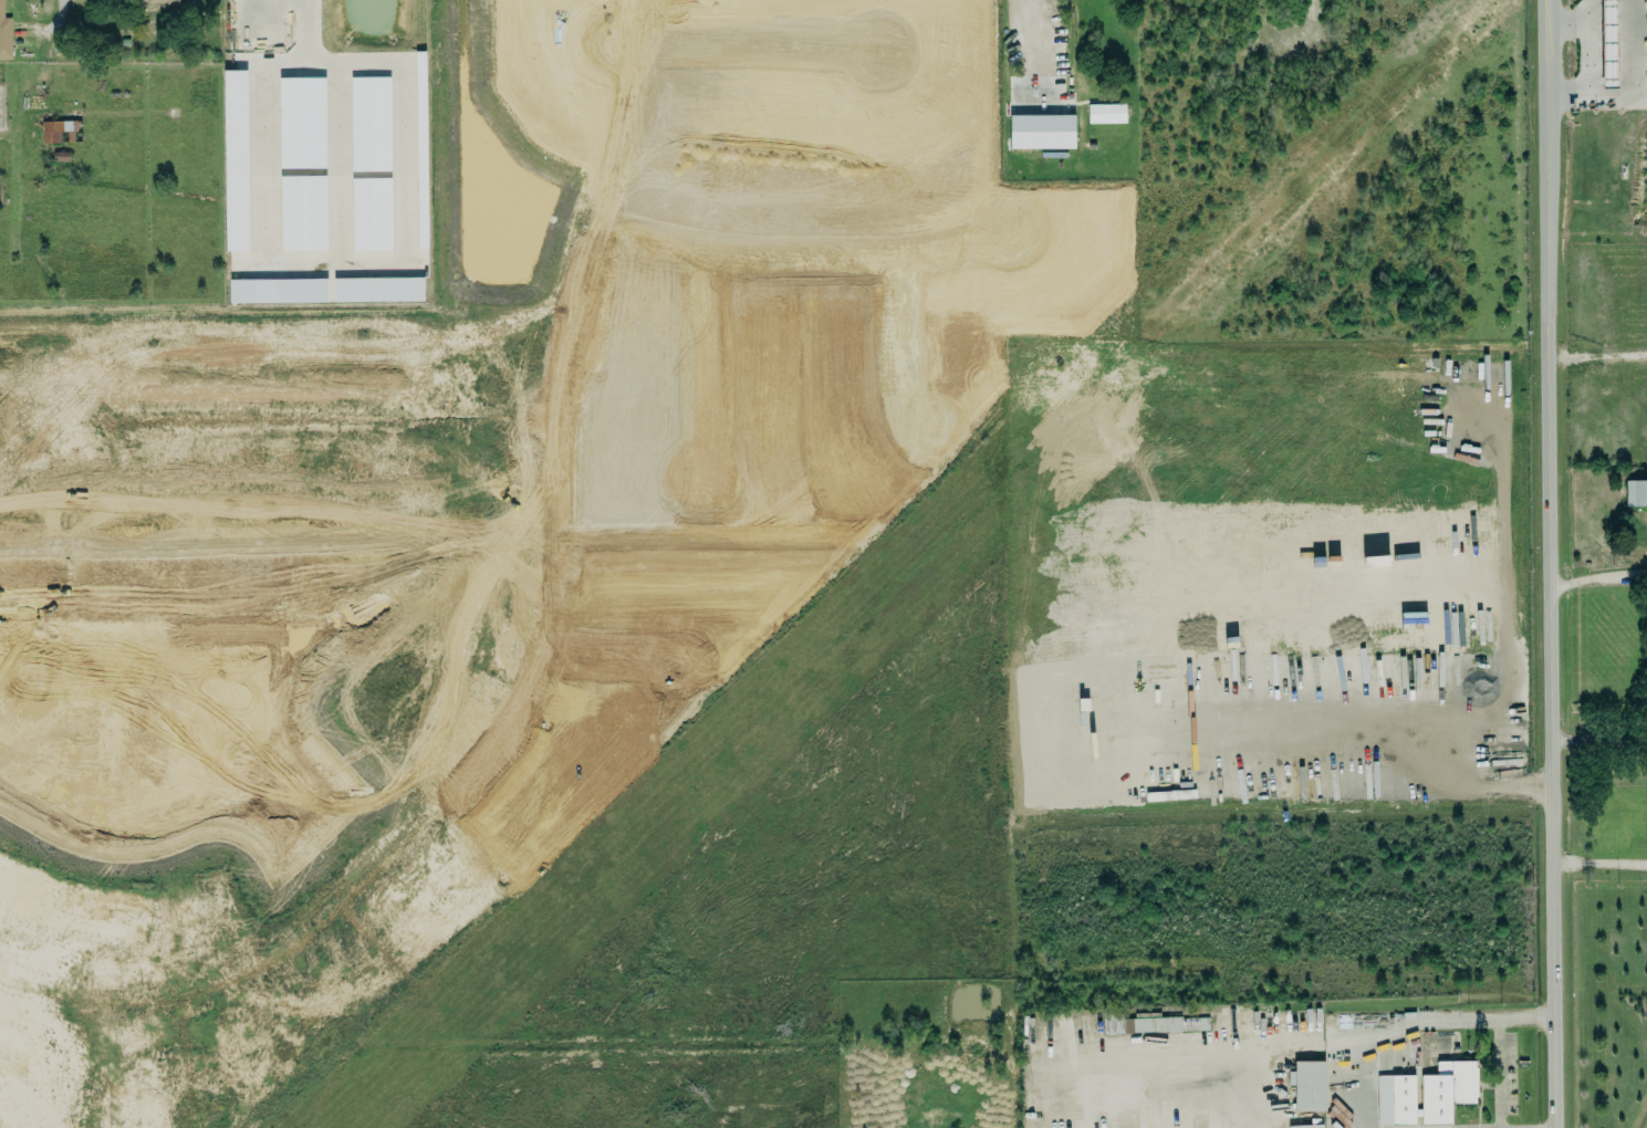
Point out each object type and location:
building: (164, 2)
building: (0, 4)
road: (52, 20)
road: (1573, 24)
road: (1011, 30)
building: (4, 39)
building: (1609, 39)
road: (307, 56)
road: (1630, 92)
building: (1105, 114)
building: (302, 123)
building: (371, 124)
building: (1041, 128)
building: (59, 133)
building: (236, 160)
building: (303, 213)
building: (372, 215)
building: (378, 290)
building: (278, 291)
road: (1596, 359)
building: (1636, 493)
road: (1551, 564)
road: (1598, 575)
road: (1499, 606)
road: (1598, 740)
road: (1349, 744)
road: (1604, 863)
park: (1610, 1002)
road: (1404, 1041)
road: (1500, 1043)
building: (1309, 1086)
building: (1447, 1090)
building: (1396, 1099)

